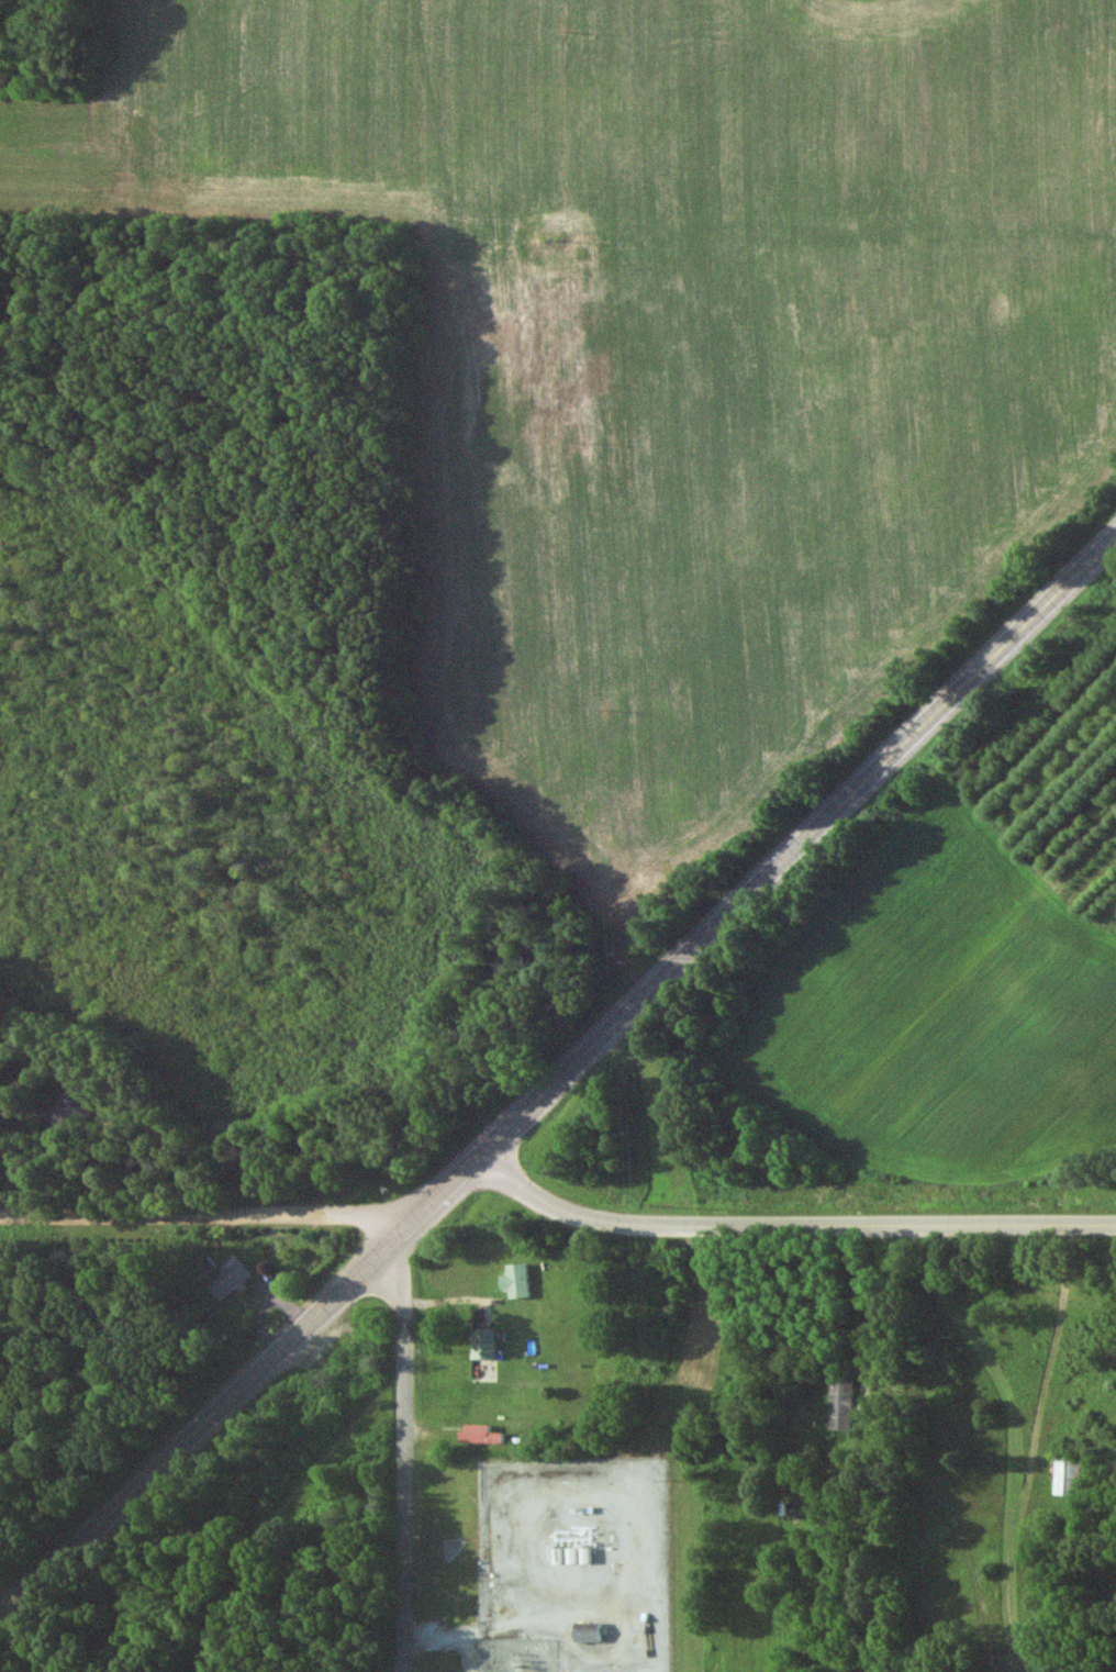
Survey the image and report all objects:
road: (562, 1075)
building: (70, 1114)
road: (201, 1214)
road: (789, 1224)
building: (228, 1280)
building: (516, 1280)
road: (862, 1297)
building: (481, 1345)
building: (840, 1405)
building: (478, 1435)
road: (925, 1447)
road: (402, 1450)
building: (1064, 1476)
building: (587, 1632)

